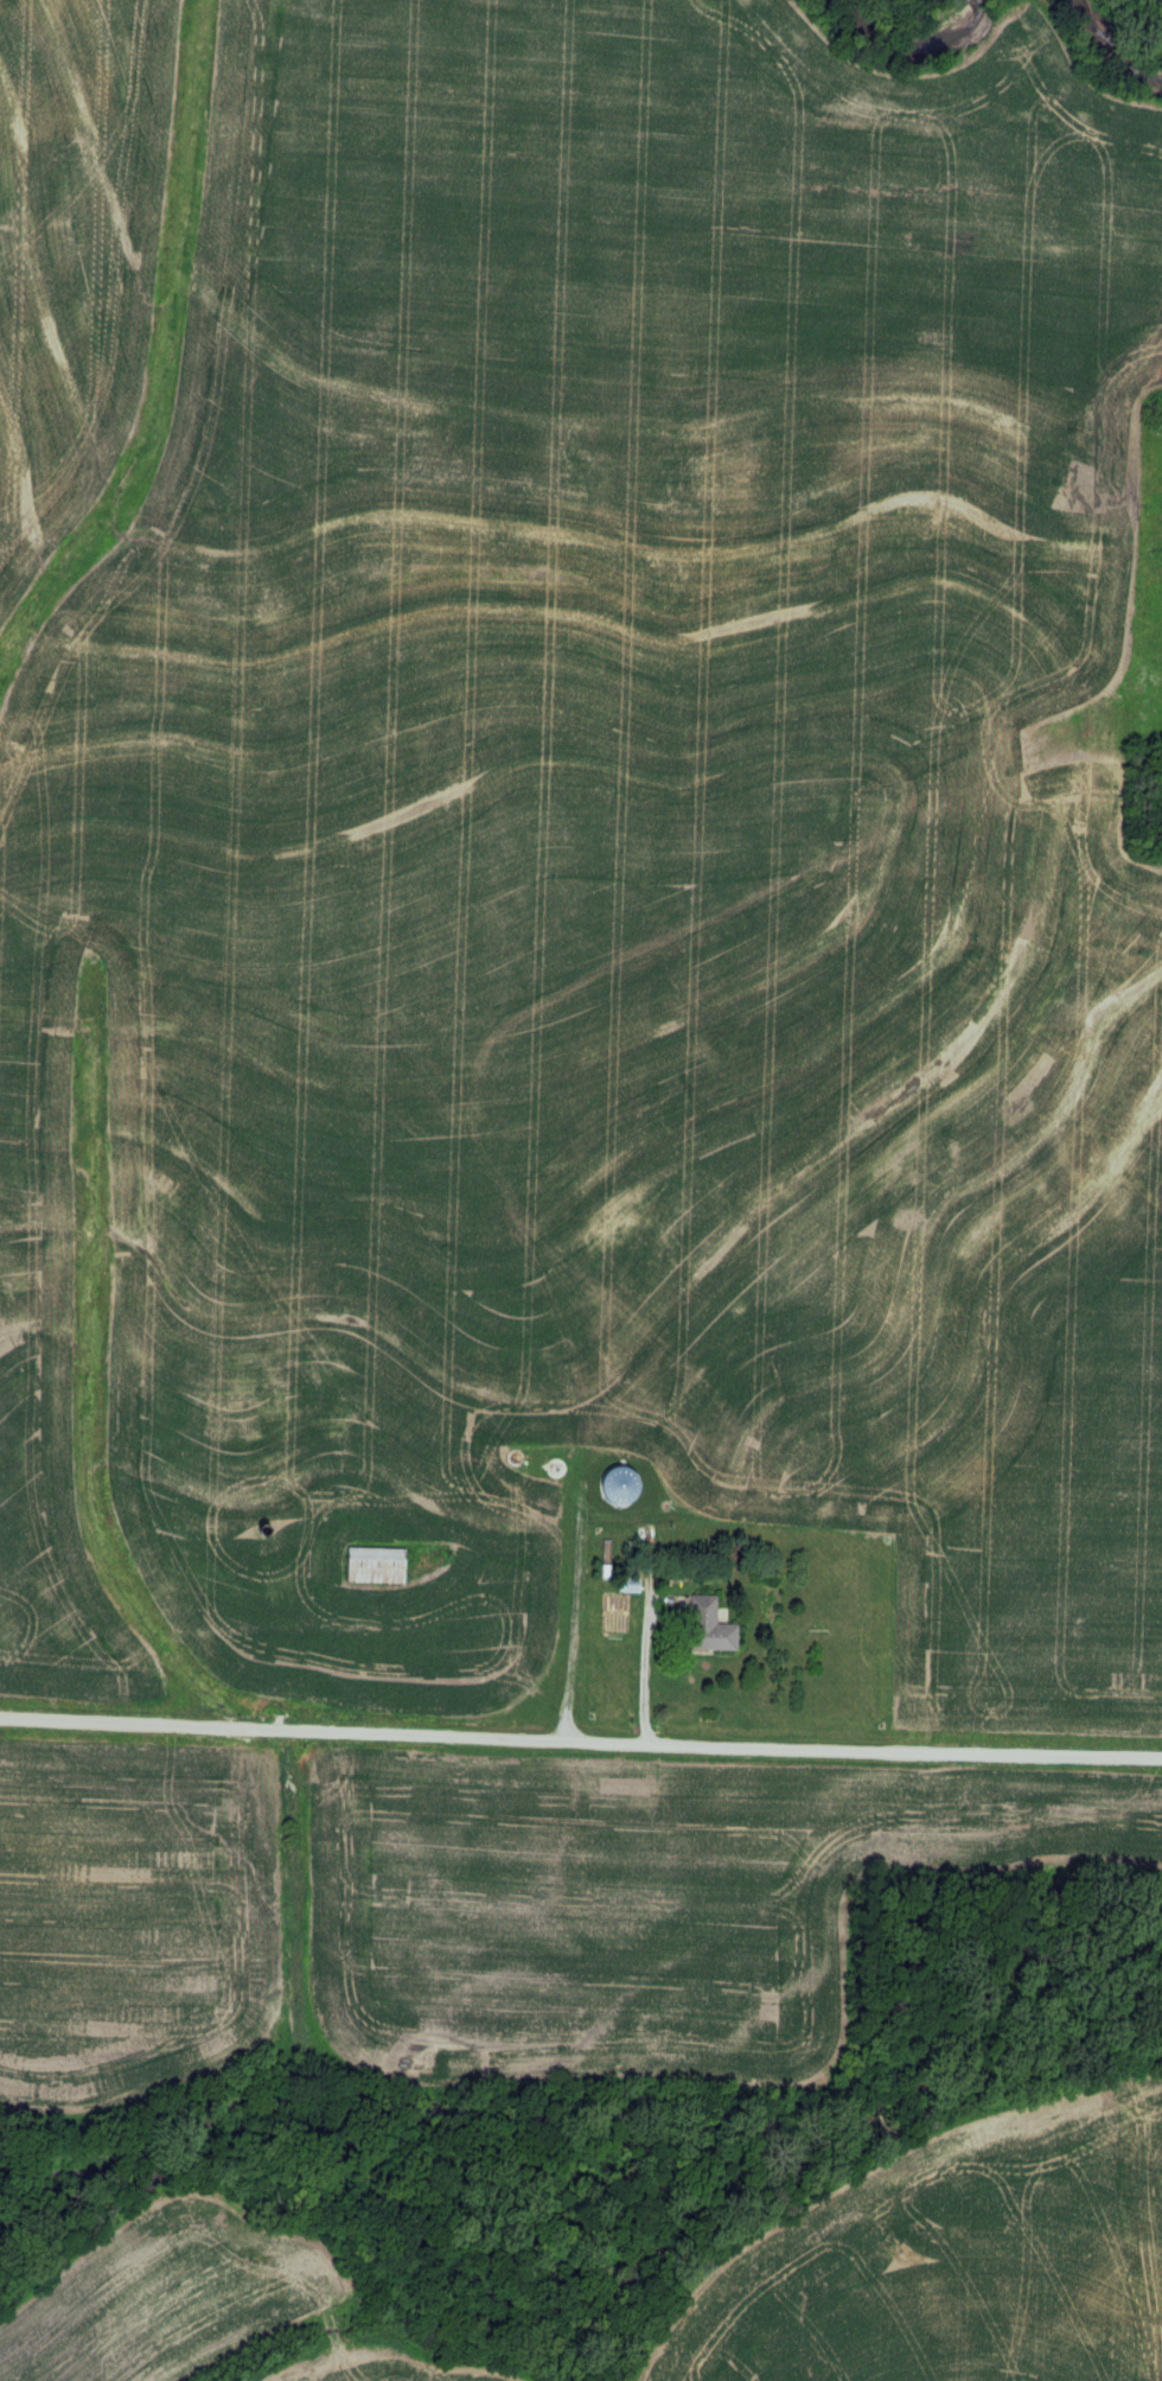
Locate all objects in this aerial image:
building: (296, 1374)
building: (235, 1414)
building: (378, 1564)
building: (632, 1584)
building: (713, 1625)
road: (643, 1659)
road: (580, 1743)

